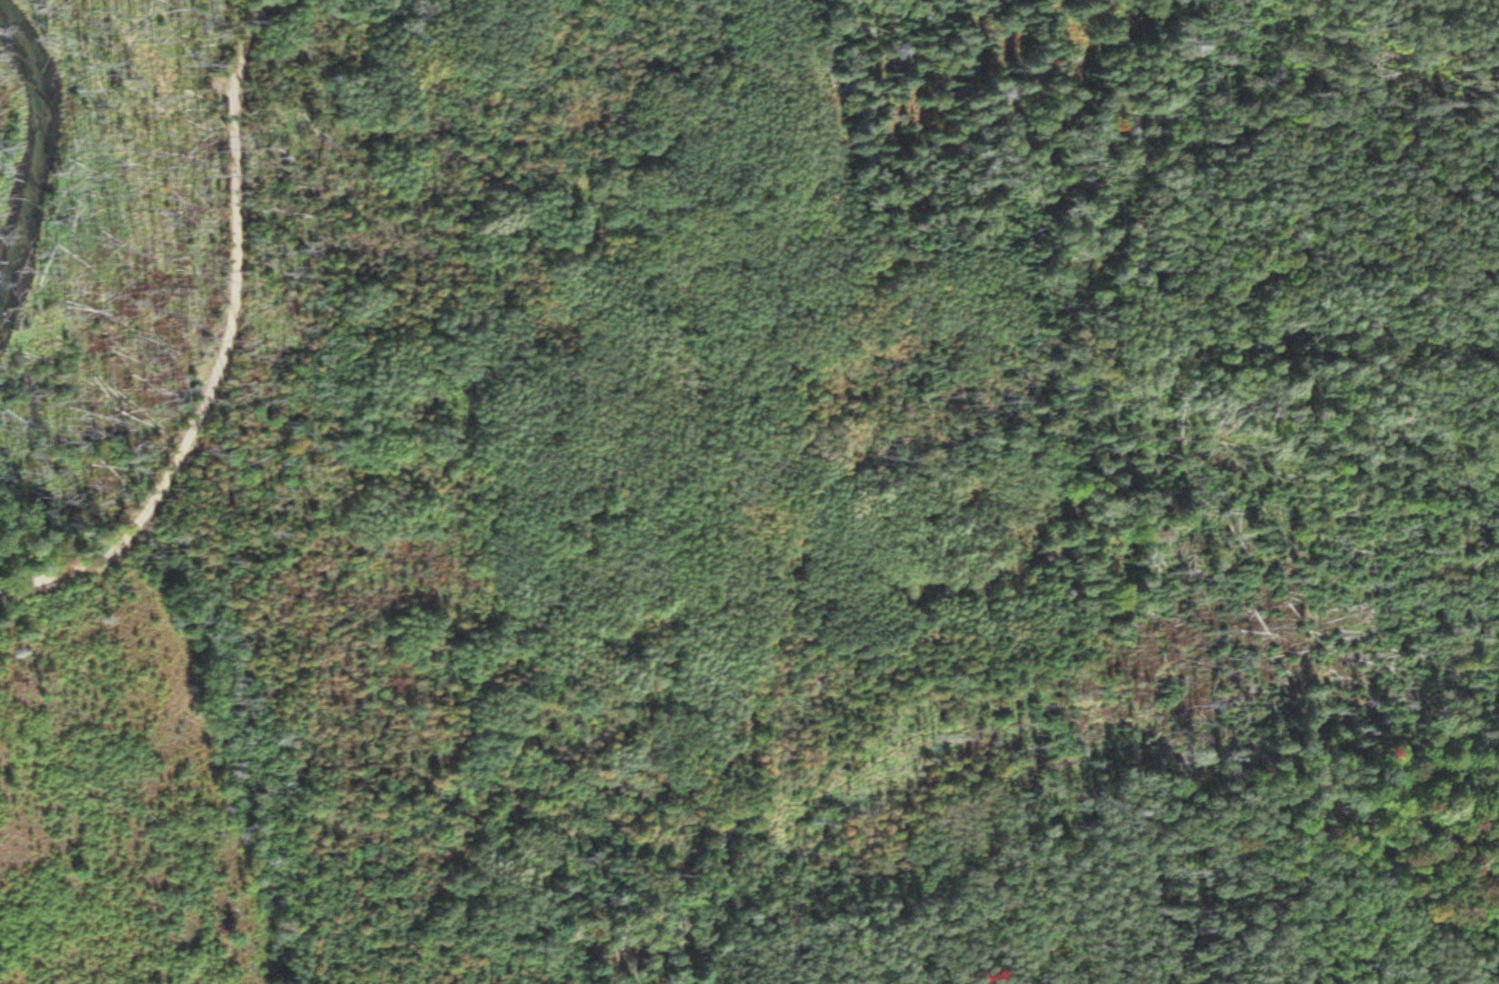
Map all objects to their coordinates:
river: (24, 128)
road: (869, 201)
road: (241, 269)
park: (749, 492)
road: (132, 530)
road: (64, 571)
road: (728, 833)
road: (731, 913)

